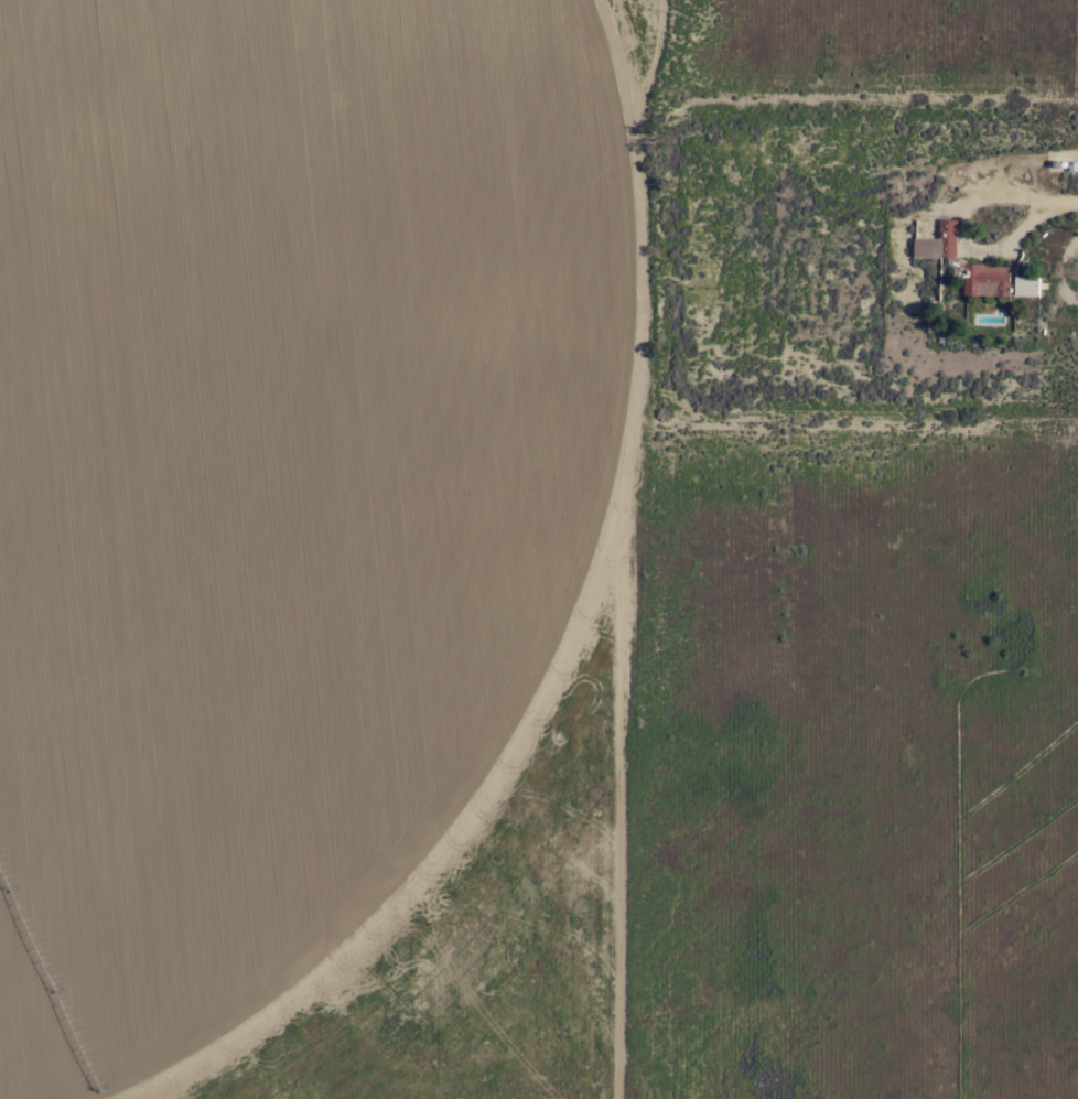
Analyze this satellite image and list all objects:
road: (1056, 200)
building: (966, 263)
building: (1027, 284)
crop: (542, 513)

